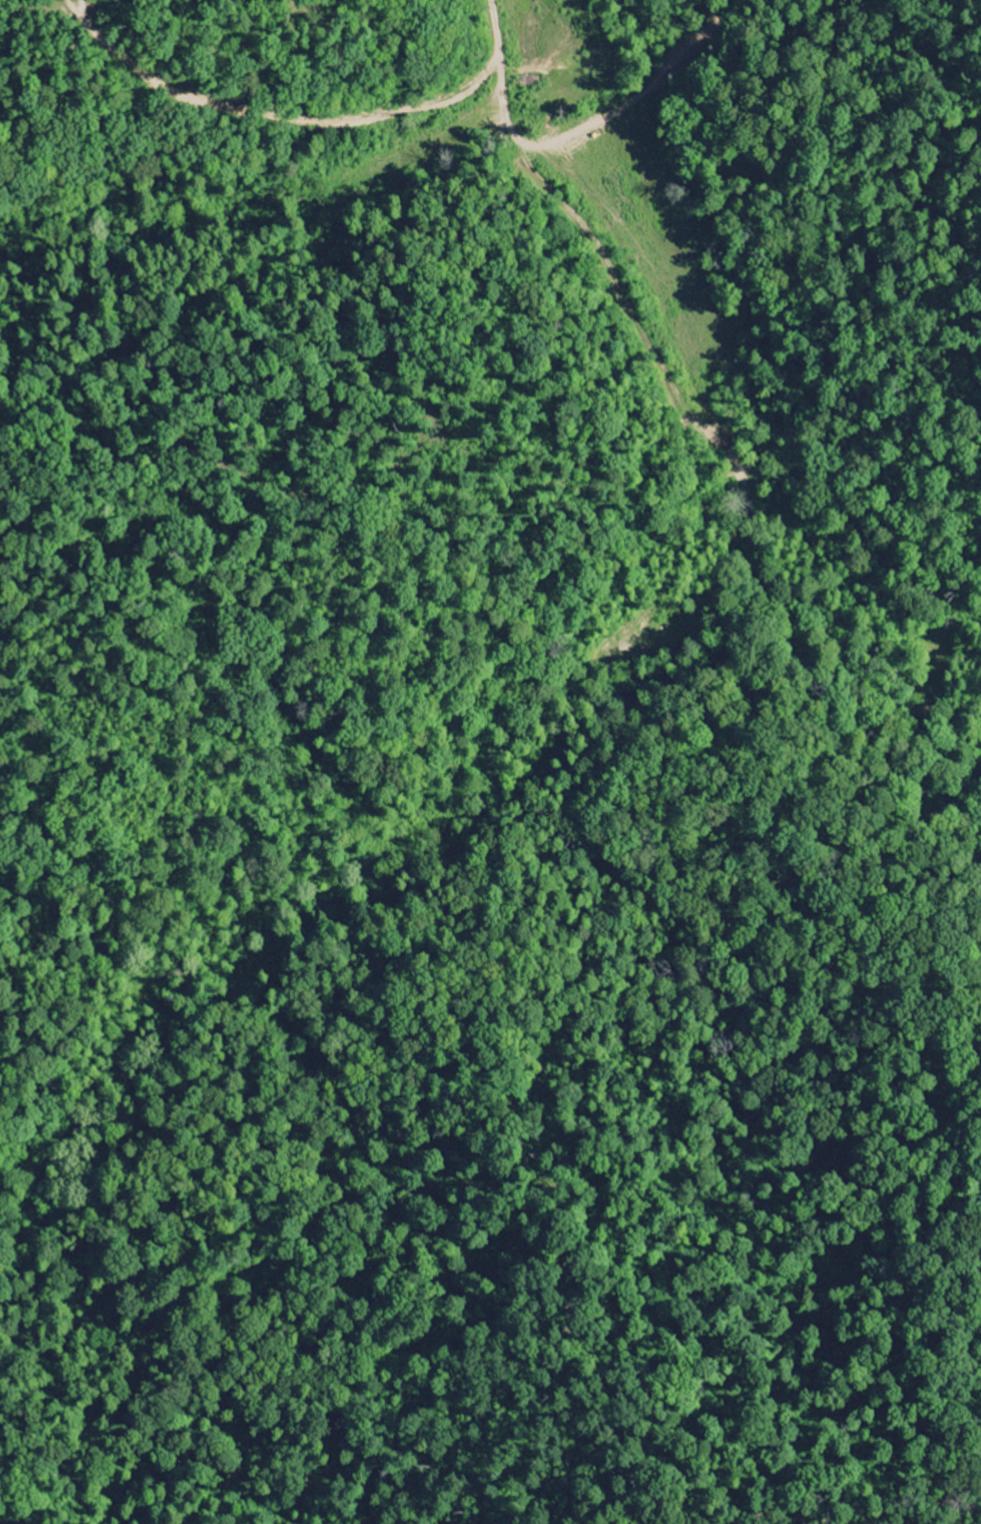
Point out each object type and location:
road: (664, 10)

